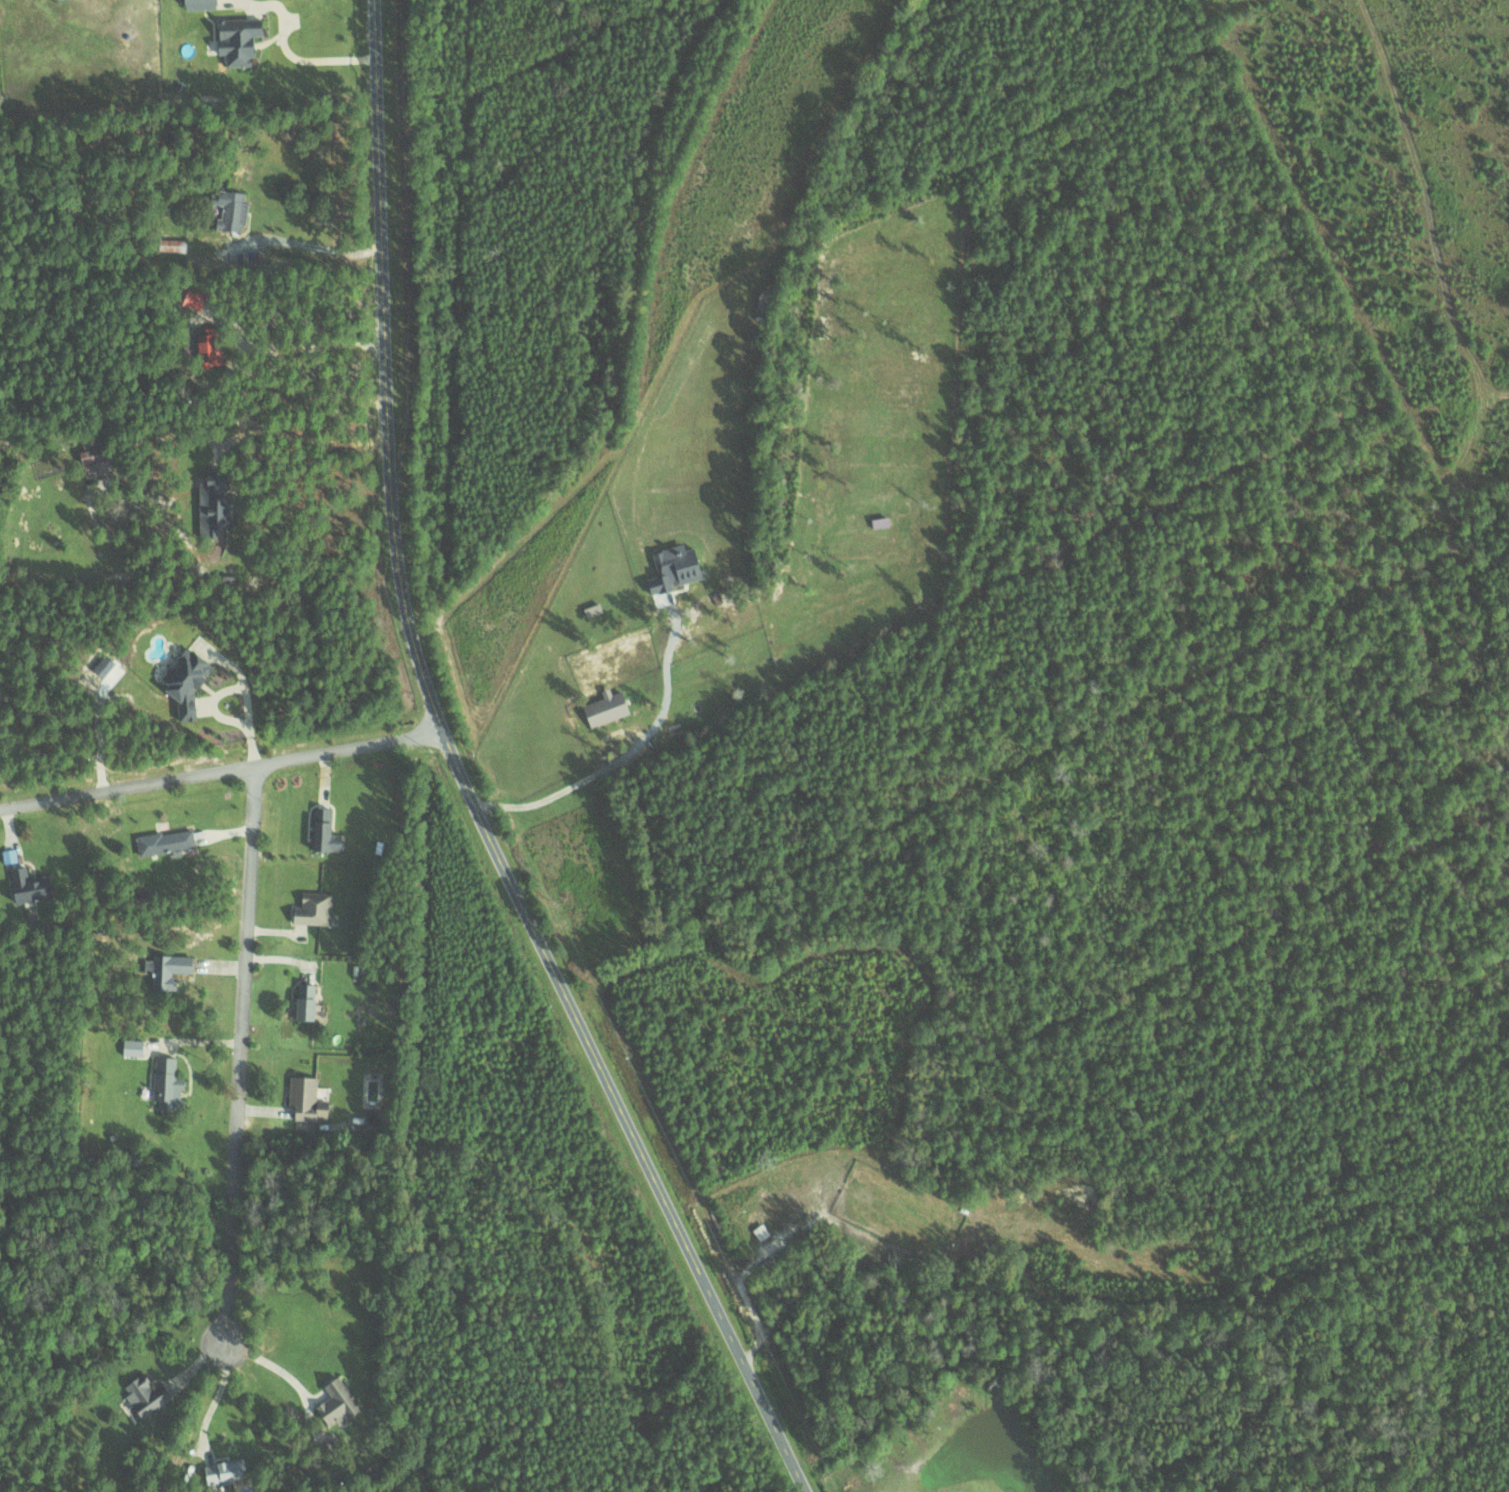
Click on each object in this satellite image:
building: (198, 4)
building: (236, 40)
road: (285, 46)
building: (230, 210)
road: (297, 241)
road: (305, 437)
building: (92, 457)
building: (213, 507)
building: (184, 682)
building: (604, 707)
road: (222, 769)
road: (465, 778)
building: (323, 832)
building: (164, 842)
building: (26, 887)
building: (313, 909)
building: (167, 970)
building: (304, 1002)
building: (131, 1047)
road: (240, 1054)
building: (166, 1084)
building: (303, 1099)
building: (376, 1119)
building: (760, 1232)
building: (144, 1395)
building: (336, 1404)
building: (222, 1473)

